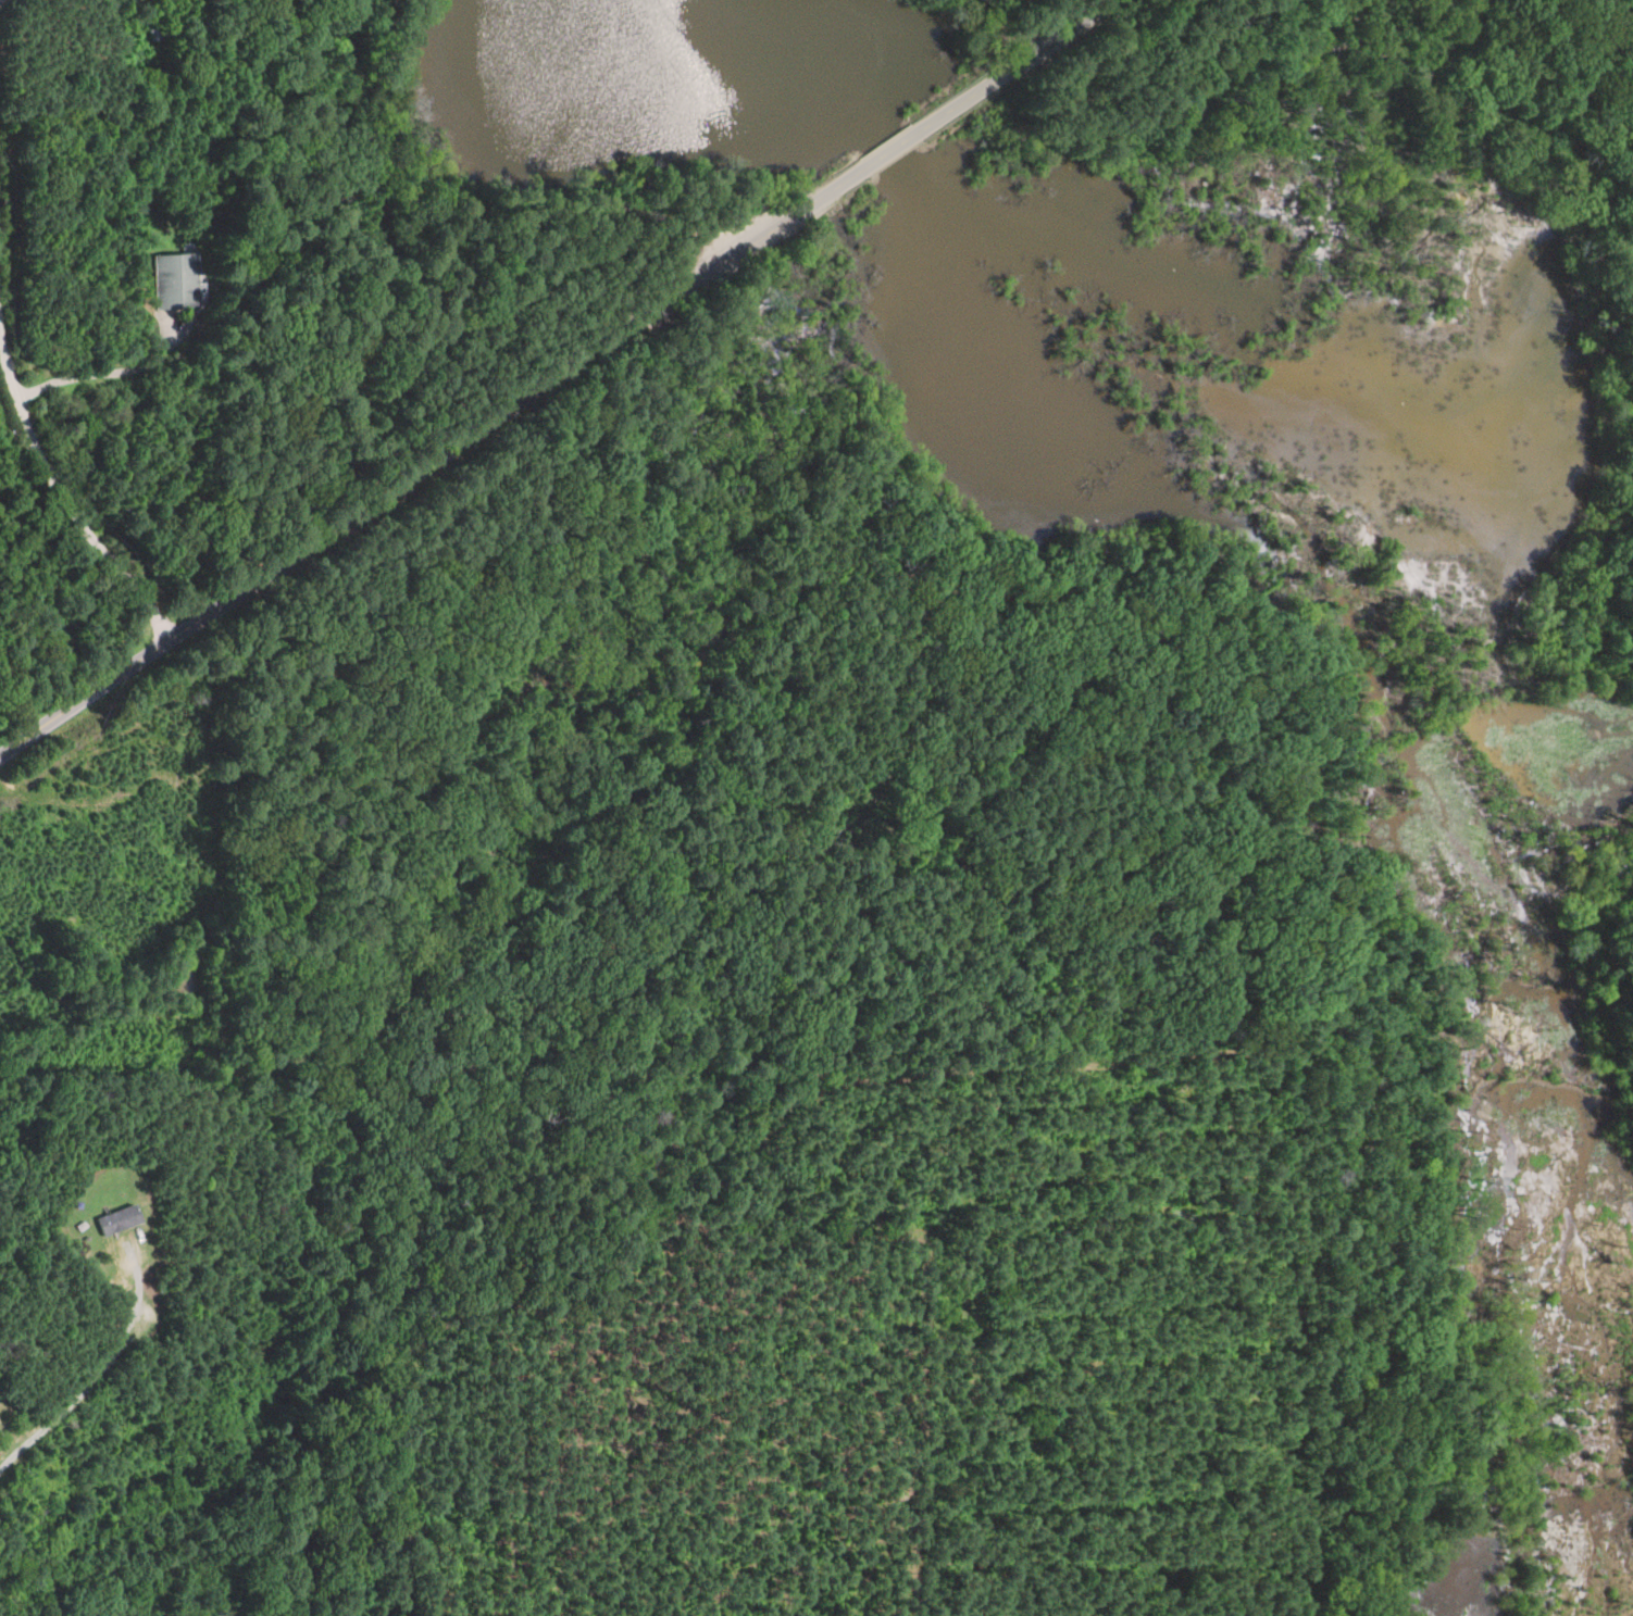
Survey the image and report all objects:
road: (2, 0)
building: (159, 34)
road: (1012, 65)
road: (892, 149)
building: (177, 280)
road: (113, 368)
road: (432, 461)
road: (58, 487)
building: (122, 1220)
road: (86, 1388)

